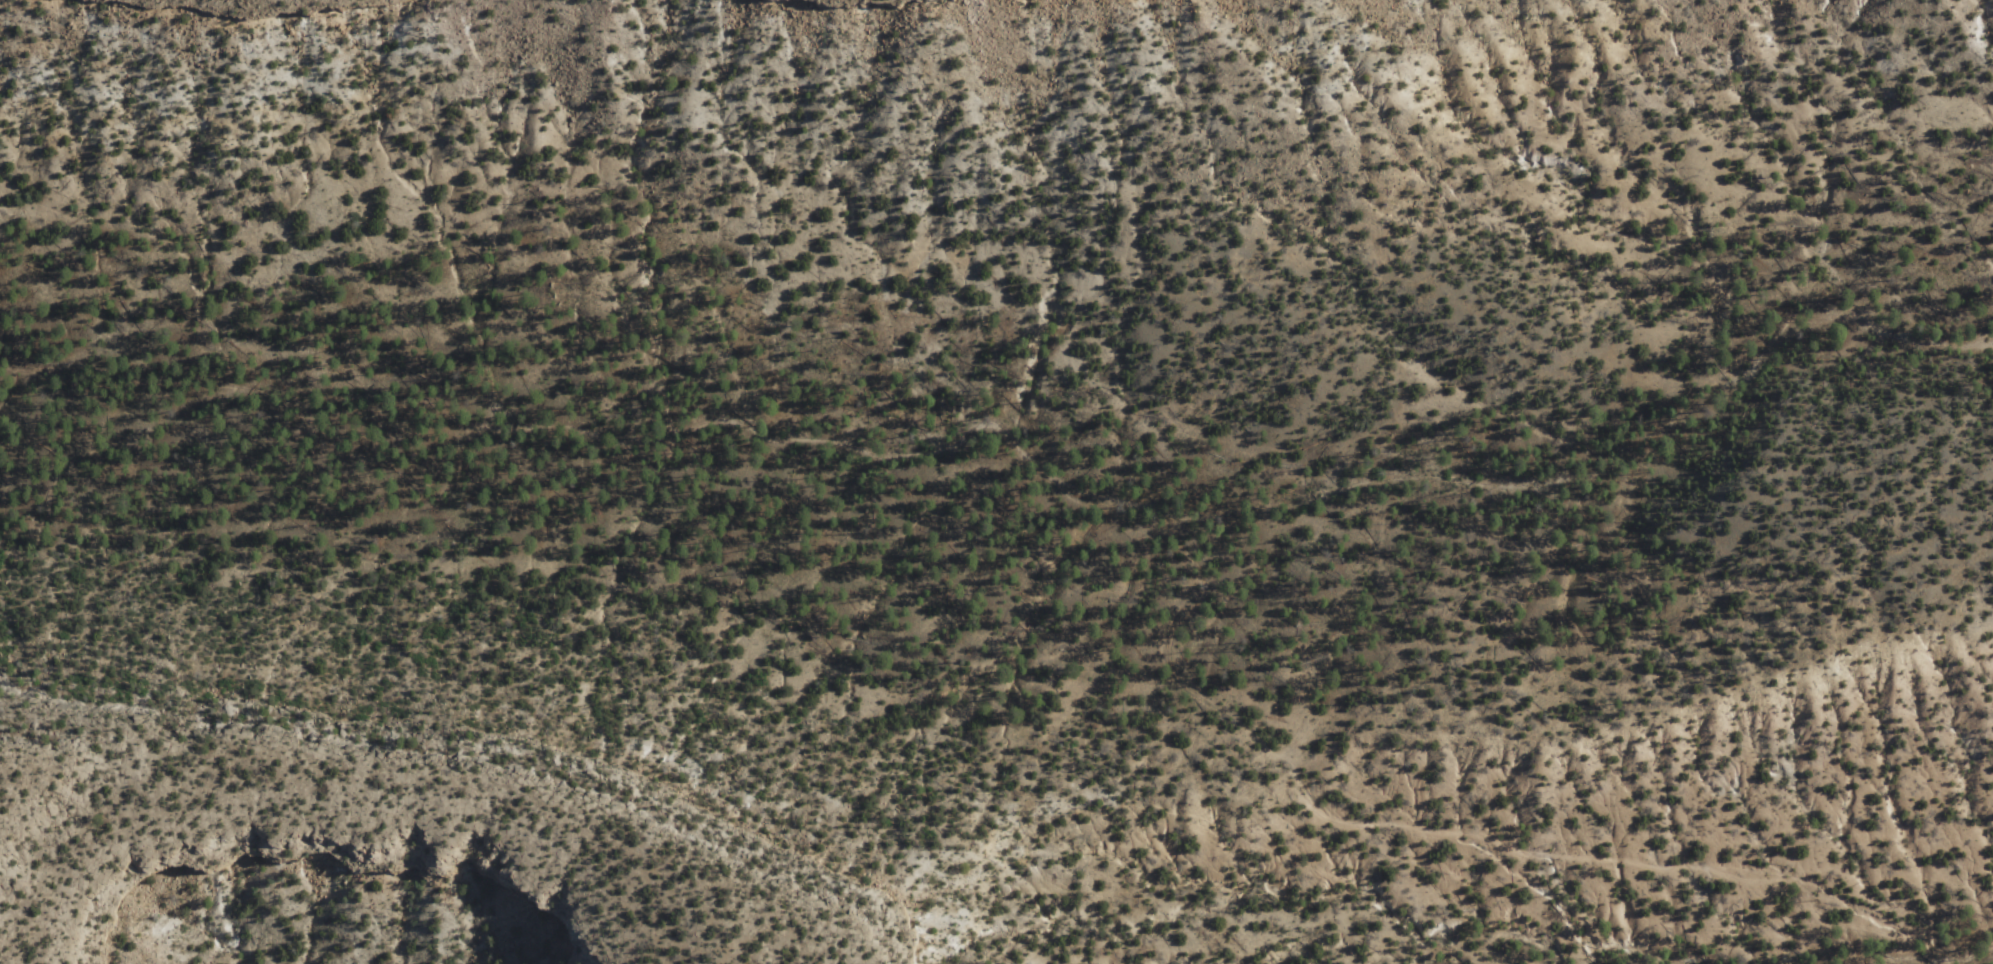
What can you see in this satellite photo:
road: (60, 0)
road: (87, 25)

